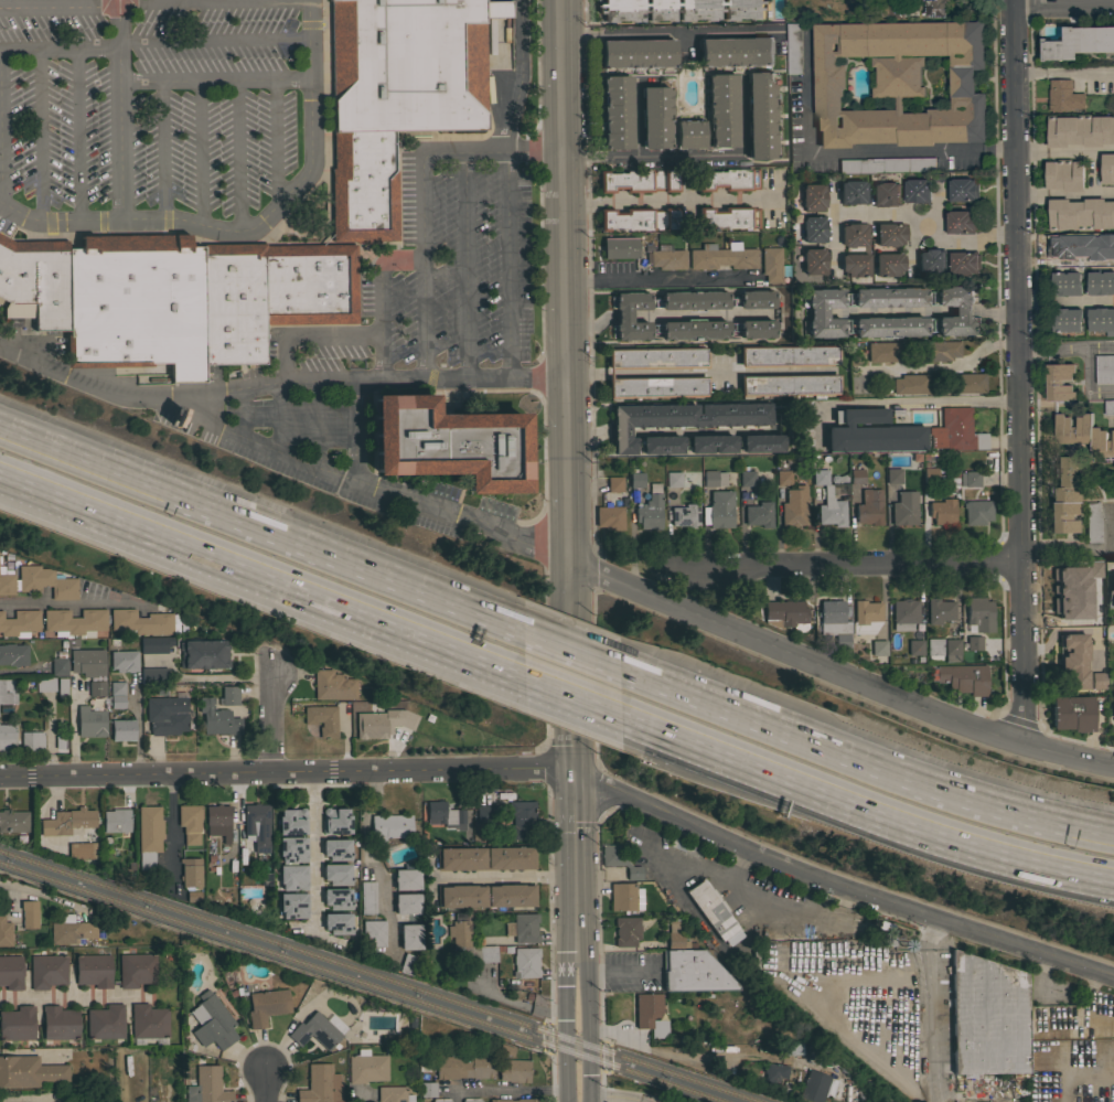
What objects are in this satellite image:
road: (114, 2)
road: (121, 2)
road: (196, 2)
road: (1064, 3)
road: (58, 6)
building: (934, 8)
building: (893, 9)
building: (679, 10)
road: (672, 31)
road: (213, 39)
building: (1080, 43)
road: (58, 47)
building: (790, 50)
building: (736, 51)
building: (636, 53)
building: (409, 63)
road: (1064, 72)
road: (214, 78)
building: (898, 82)
building: (1063, 96)
building: (721, 109)
road: (119, 110)
building: (615, 110)
parking lot: (156, 114)
building: (761, 114)
building: (655, 116)
building: (1080, 130)
road: (41, 133)
road: (77, 133)
building: (688, 133)
road: (276, 139)
road: (162, 148)
road: (537, 150)
road: (857, 150)
road: (200, 151)
road: (237, 153)
road: (1065, 154)
road: (663, 158)
building: (886, 164)
building: (1107, 169)
building: (1063, 176)
building: (727, 179)
building: (639, 180)
road: (536, 184)
building: (363, 186)
road: (507, 186)
building: (962, 190)
building: (851, 191)
building: (915, 191)
building: (885, 192)
building: (812, 196)
road: (1065, 196)
road: (666, 200)
building: (1080, 214)
building: (727, 216)
building: (639, 218)
building: (958, 221)
road: (422, 225)
road: (248, 226)
building: (813, 228)
road: (929, 228)
building: (854, 234)
building: (888, 235)
road: (277, 238)
building: (619, 247)
building: (1078, 255)
building: (722, 256)
building: (667, 257)
building: (813, 260)
building: (930, 261)
building: (963, 263)
road: (464, 264)
building: (888, 264)
building: (772, 265)
building: (854, 265)
road: (996, 275)
building: (36, 279)
road: (586, 279)
road: (662, 280)
building: (1100, 282)
building: (1063, 285)
building: (271, 293)
road: (381, 300)
road: (1067, 302)
building: (136, 303)
building: (18, 310)
building: (962, 312)
building: (623, 314)
building: (1064, 321)
building: (1101, 321)
road: (309, 335)
road: (1101, 349)
building: (941, 350)
building: (883, 351)
road: (1053, 353)
building: (788, 355)
building: (657, 356)
road: (943, 366)
building: (1104, 368)
road: (701, 371)
parking lot: (722, 372)
road: (1019, 373)
road: (363, 381)
building: (1059, 382)
building: (966, 383)
road: (1089, 383)
building: (910, 384)
road: (78, 385)
building: (788, 385)
building: (656, 386)
road: (488, 390)
building: (1108, 407)
road: (242, 414)
road: (277, 417)
road: (313, 424)
building: (667, 427)
road: (352, 430)
building: (955, 430)
building: (871, 432)
building: (1083, 435)
building: (448, 443)
road: (335, 474)
road: (570, 474)
building: (929, 474)
building: (746, 475)
building: (856, 475)
building: (892, 475)
building: (713, 478)
building: (782, 478)
building: (635, 479)
building: (673, 479)
building: (968, 479)
building: (613, 483)
building: (1063, 493)
building: (828, 501)
building: (794, 506)
building: (868, 506)
building: (650, 509)
building: (718, 509)
building: (903, 509)
building: (942, 511)
building: (976, 511)
building: (758, 514)
building: (685, 515)
building: (609, 517)
road: (260, 521)
building: (1092, 522)
road: (543, 537)
road: (1068, 549)
road: (543, 550)
road: (840, 563)
road: (260, 569)
building: (1047, 569)
building: (1093, 570)
road: (595, 573)
building: (1075, 575)
building: (36, 581)
road: (543, 588)
building: (1112, 591)
road: (591, 602)
road: (43, 606)
building: (939, 611)
building: (786, 613)
building: (903, 613)
building: (978, 613)
building: (866, 617)
building: (74, 622)
building: (142, 622)
building: (835, 622)
building: (19, 623)
building: (1074, 636)
road: (568, 642)
building: (974, 642)
building: (154, 644)
building: (878, 646)
building: (914, 646)
building: (934, 650)
building: (951, 650)
road: (1003, 653)
building: (13, 654)
building: (203, 654)
building: (124, 660)
building: (87, 661)
building: (1068, 662)
building: (58, 666)
building: (1088, 673)
building: (153, 675)
road: (837, 677)
building: (963, 677)
building: (44, 684)
building: (333, 685)
road: (570, 687)
building: (96, 688)
building: (8, 691)
building: (116, 695)
building: (229, 695)
building: (1113, 704)
building: (1071, 713)
building: (164, 716)
building: (217, 718)
building: (321, 719)
road: (277, 720)
building: (89, 721)
building: (376, 723)
building: (122, 729)
building: (7, 737)
building: (32, 741)
building: (61, 743)
road: (542, 747)
road: (860, 758)
road: (595, 761)
road: (287, 772)
road: (863, 803)
road: (624, 809)
building: (446, 814)
building: (481, 815)
building: (116, 820)
building: (335, 820)
building: (522, 820)
building: (13, 821)
building: (66, 821)
building: (217, 821)
building: (292, 821)
building: (190, 822)
building: (389, 826)
building: (257, 828)
road: (170, 830)
building: (149, 835)
building: (292, 848)
building: (336, 848)
road: (313, 849)
building: (79, 850)
building: (485, 857)
road: (740, 858)
building: (619, 859)
road: (367, 862)
building: (190, 871)
building: (336, 874)
road: (494, 875)
building: (614, 875)
building: (292, 877)
building: (406, 878)
road: (432, 884)
road: (840, 889)
building: (485, 895)
building: (622, 896)
building: (189, 897)
building: (367, 897)
building: (339, 898)
road: (844, 899)
building: (406, 902)
building: (293, 905)
building: (713, 912)
building: (29, 913)
building: (338, 922)
building: (522, 927)
building: (71, 930)
building: (4, 931)
building: (626, 931)
building: (373, 932)
building: (409, 935)
building: (675, 935)
building: (467, 942)
road: (603, 950)
building: (525, 961)
building: (408, 963)
building: (136, 969)
building: (47, 970)
building: (93, 970)
building: (11, 972)
building: (693, 972)
parking lot: (631, 973)
railway: (377, 976)
railway: (363, 981)
building: (876, 993)
road: (75, 995)
road: (565, 999)
road: (931, 999)
building: (267, 1005)
building: (650, 1014)
building: (987, 1016)
road: (585, 1019)
building: (105, 1021)
building: (212, 1021)
building: (17, 1023)
building: (60, 1023)
building: (148, 1024)
building: (314, 1030)
road: (642, 1045)
building: (366, 1067)
building: (463, 1067)
building: (513, 1070)
road: (566, 1070)
building: (29, 1071)
building: (773, 1072)
building: (321, 1084)
building: (207, 1085)
building: (817, 1085)
road: (263, 1088)
road: (505, 1088)
building: (428, 1089)
road: (932, 1089)
building: (392, 1093)
road: (567, 1094)
road: (610, 1094)
building: (106, 1095)
road: (360, 1096)
road: (586, 1098)
building: (440, 1100)
building: (471, 1100)
building: (514, 1100)

